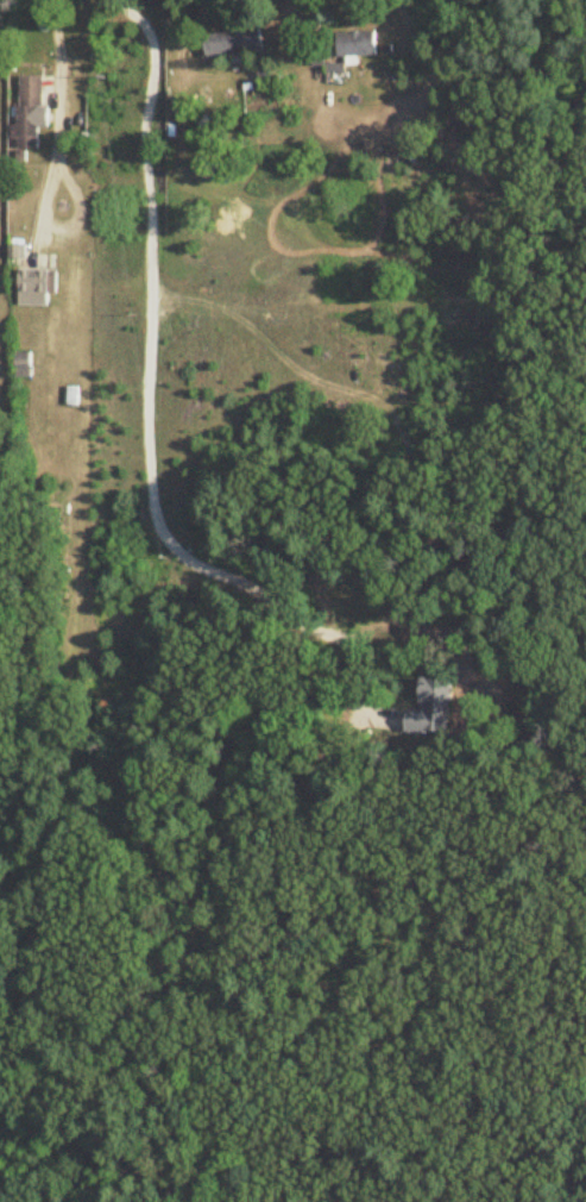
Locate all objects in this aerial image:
building: (233, 43)
building: (352, 45)
building: (29, 113)
road: (56, 121)
building: (393, 163)
building: (36, 287)
building: (21, 364)
building: (68, 396)

